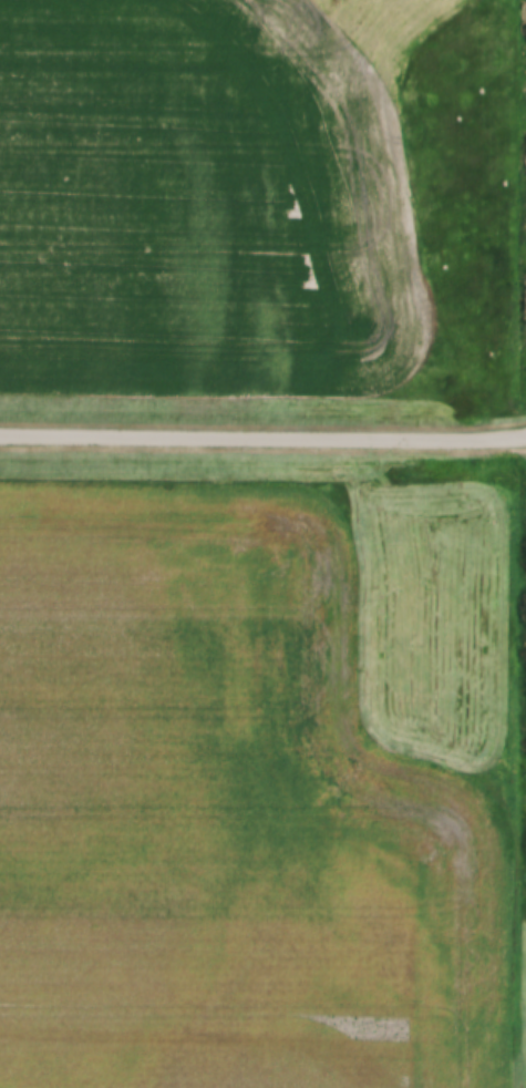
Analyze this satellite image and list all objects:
road: (262, 433)

